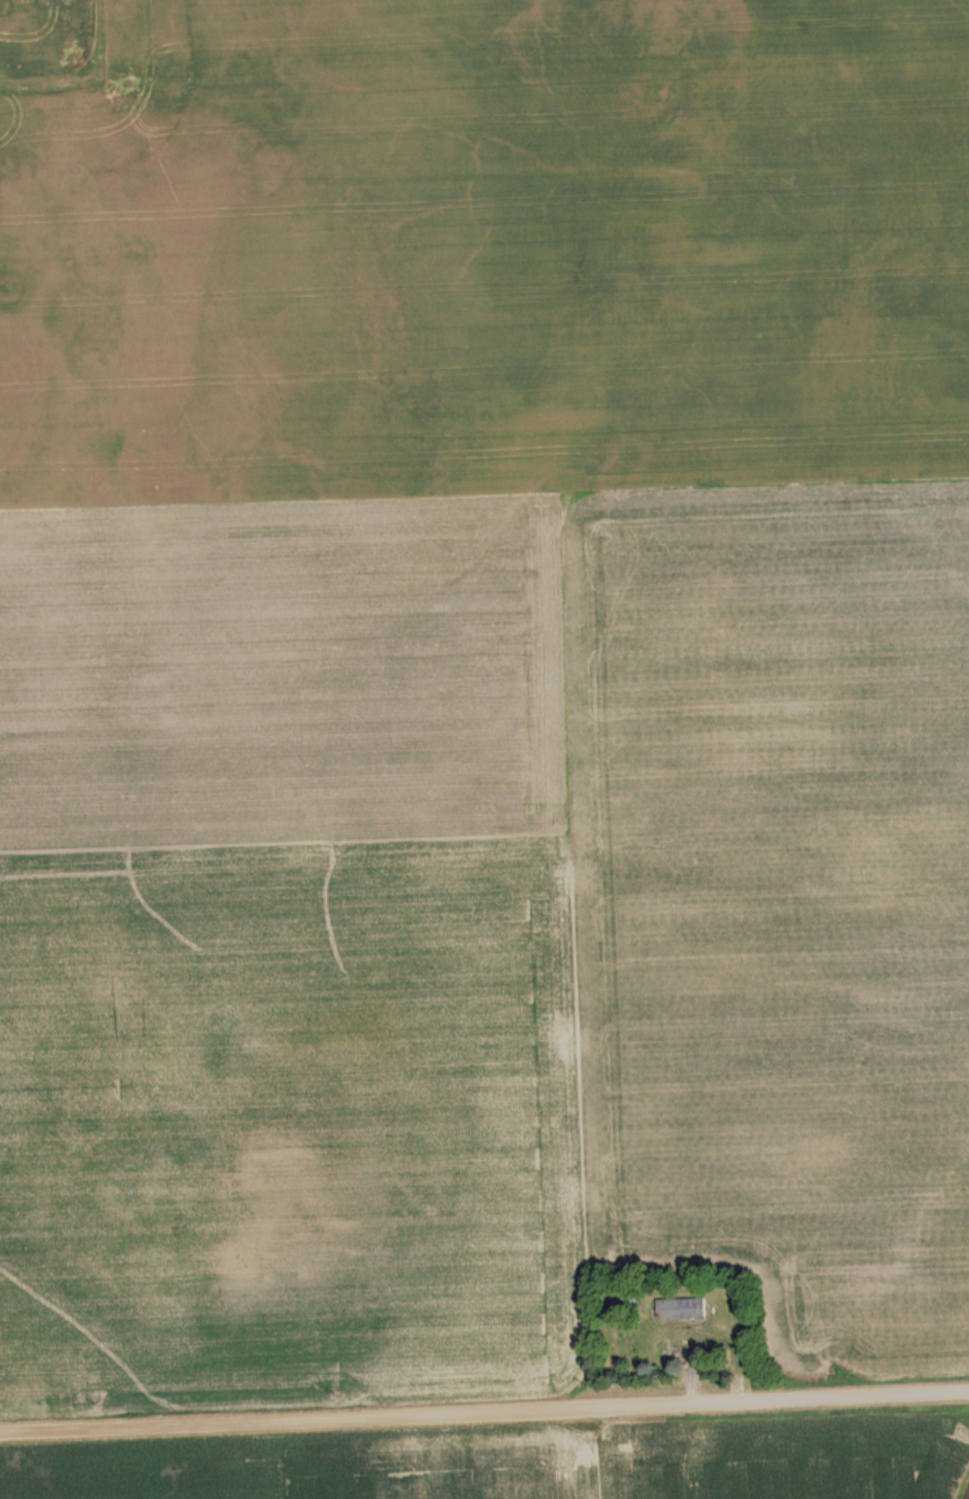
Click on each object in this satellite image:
building: (684, 1309)
building: (681, 1354)
road: (484, 1406)

